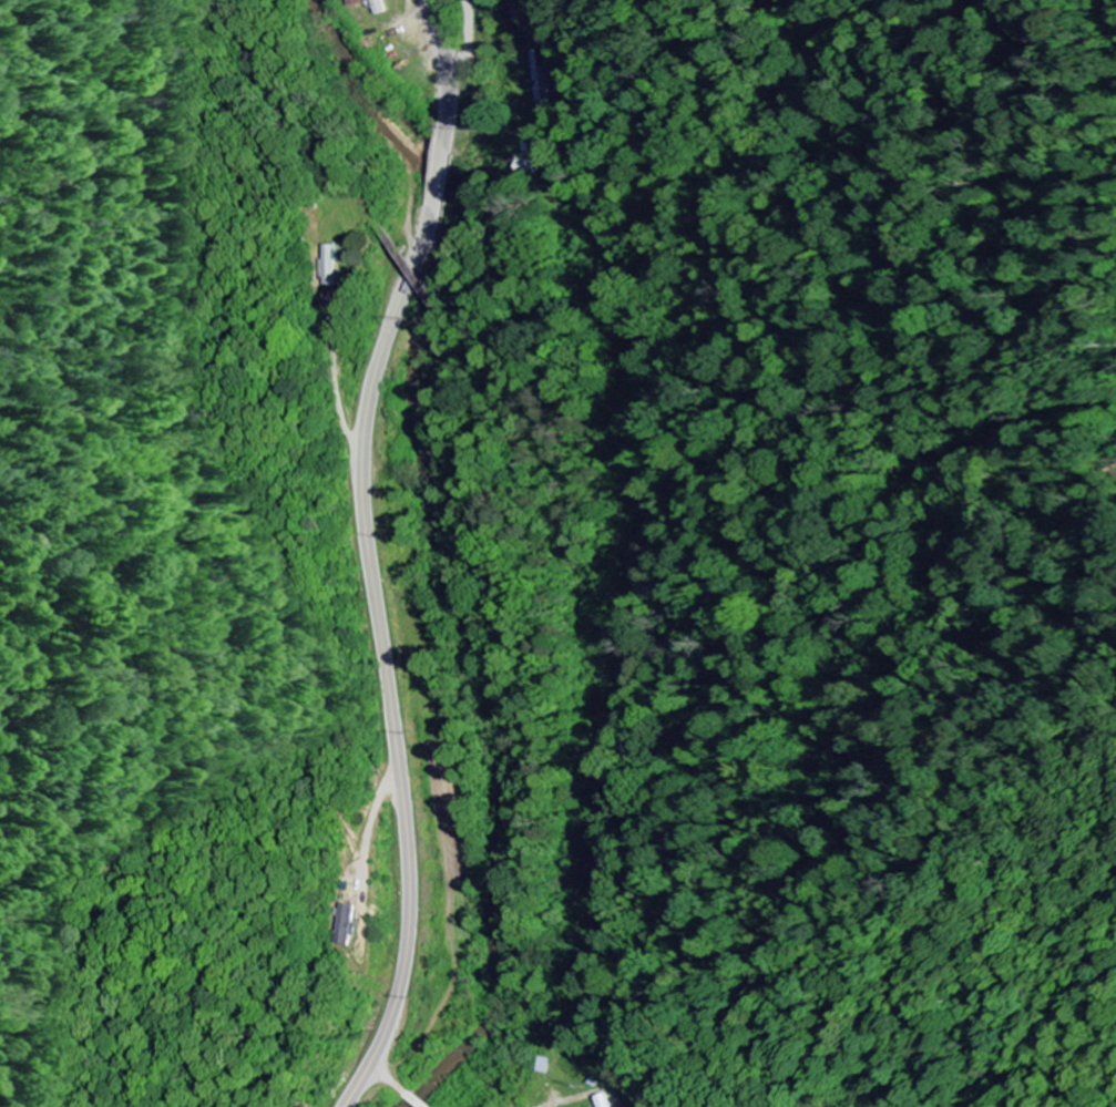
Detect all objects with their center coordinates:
building: (354, 3)
building: (540, 79)
building: (529, 167)
building: (328, 266)
road: (367, 553)
building: (344, 926)
road: (390, 1086)
building: (602, 1101)

